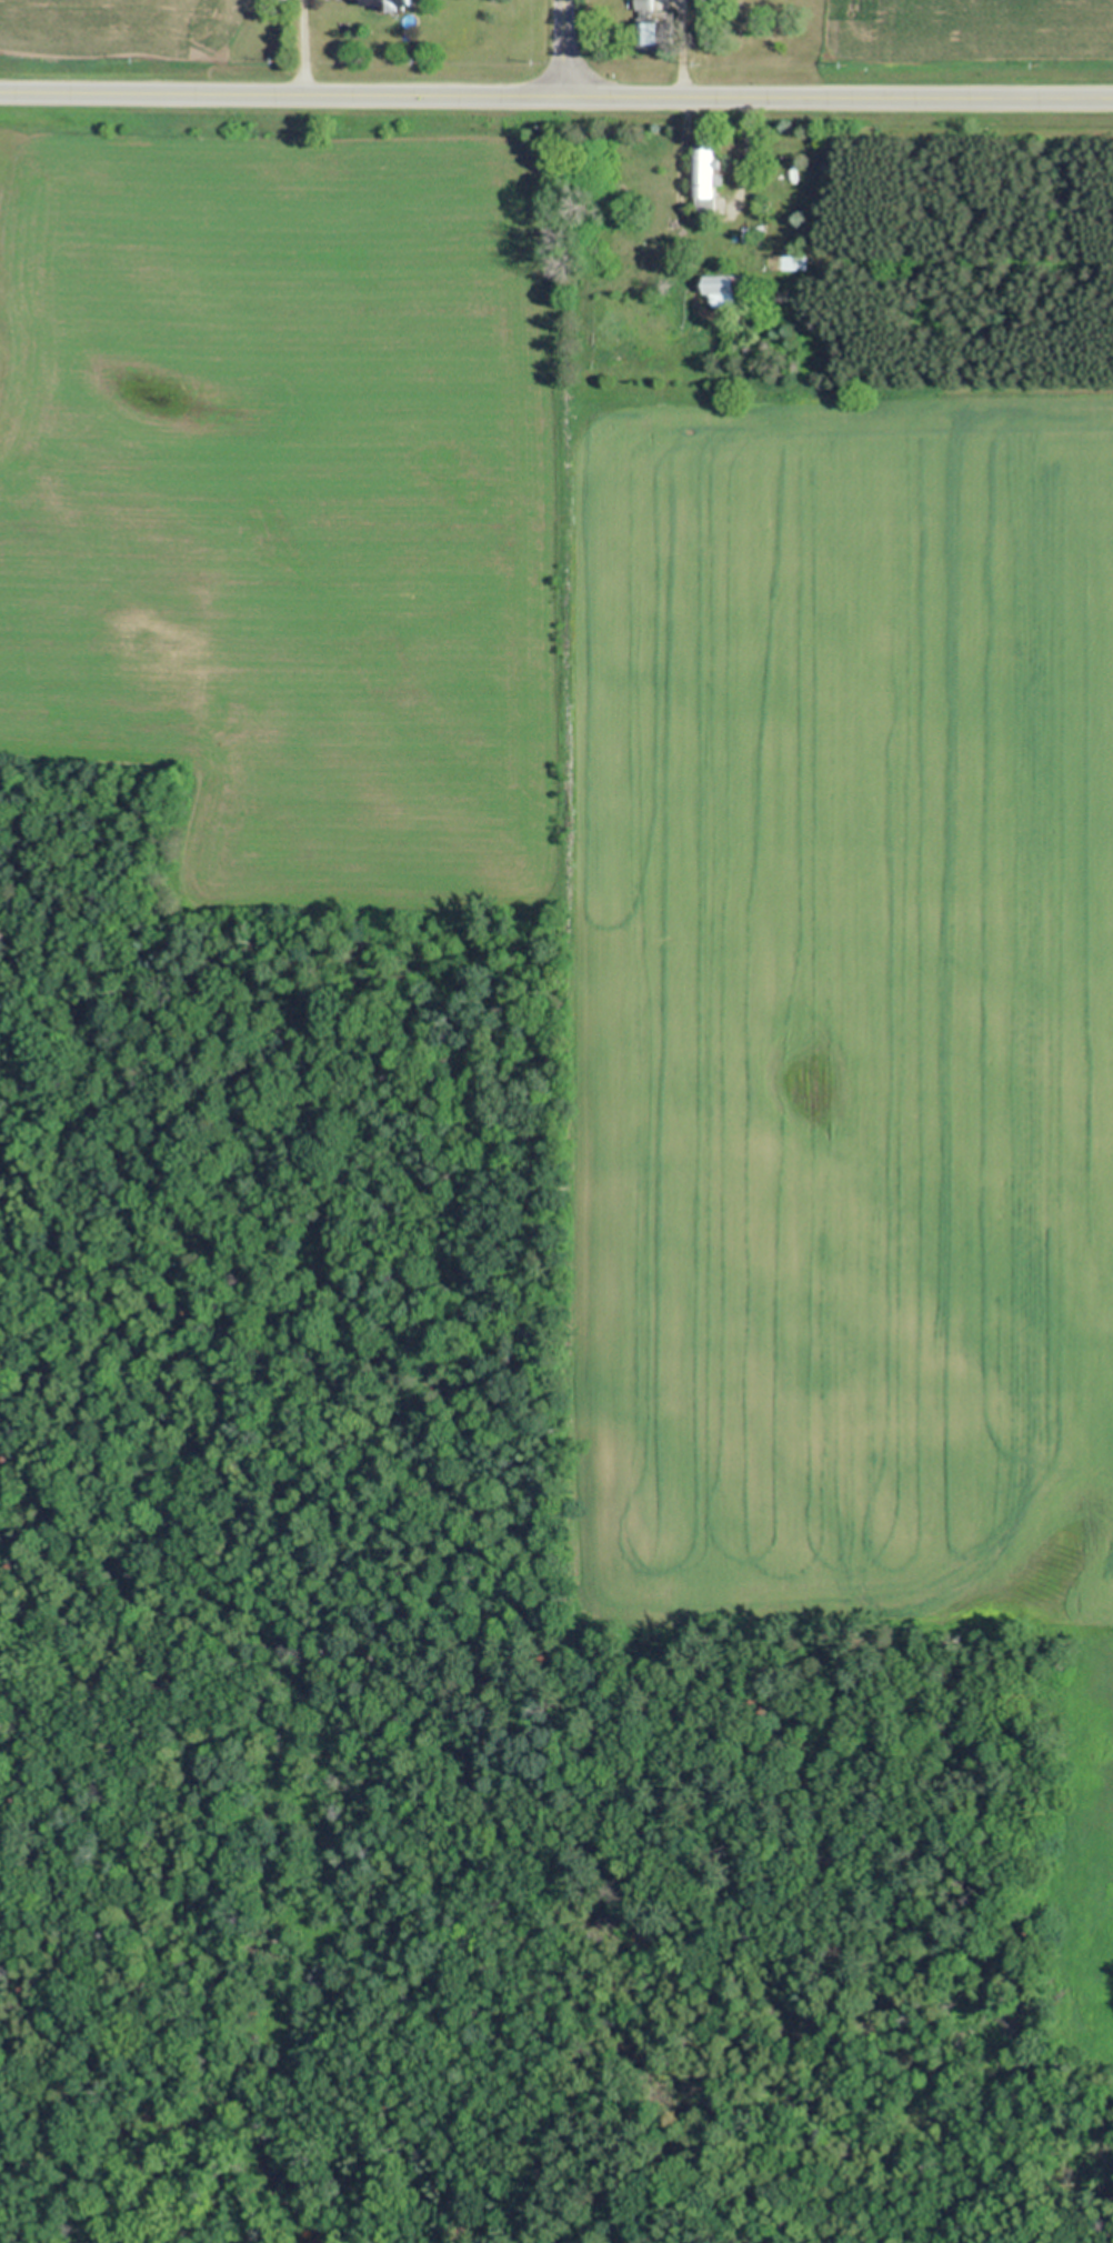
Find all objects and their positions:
building: (387, 3)
building: (643, 4)
building: (645, 32)
road: (304, 46)
road: (561, 47)
road: (555, 93)
road: (685, 99)
building: (702, 179)
building: (716, 287)

